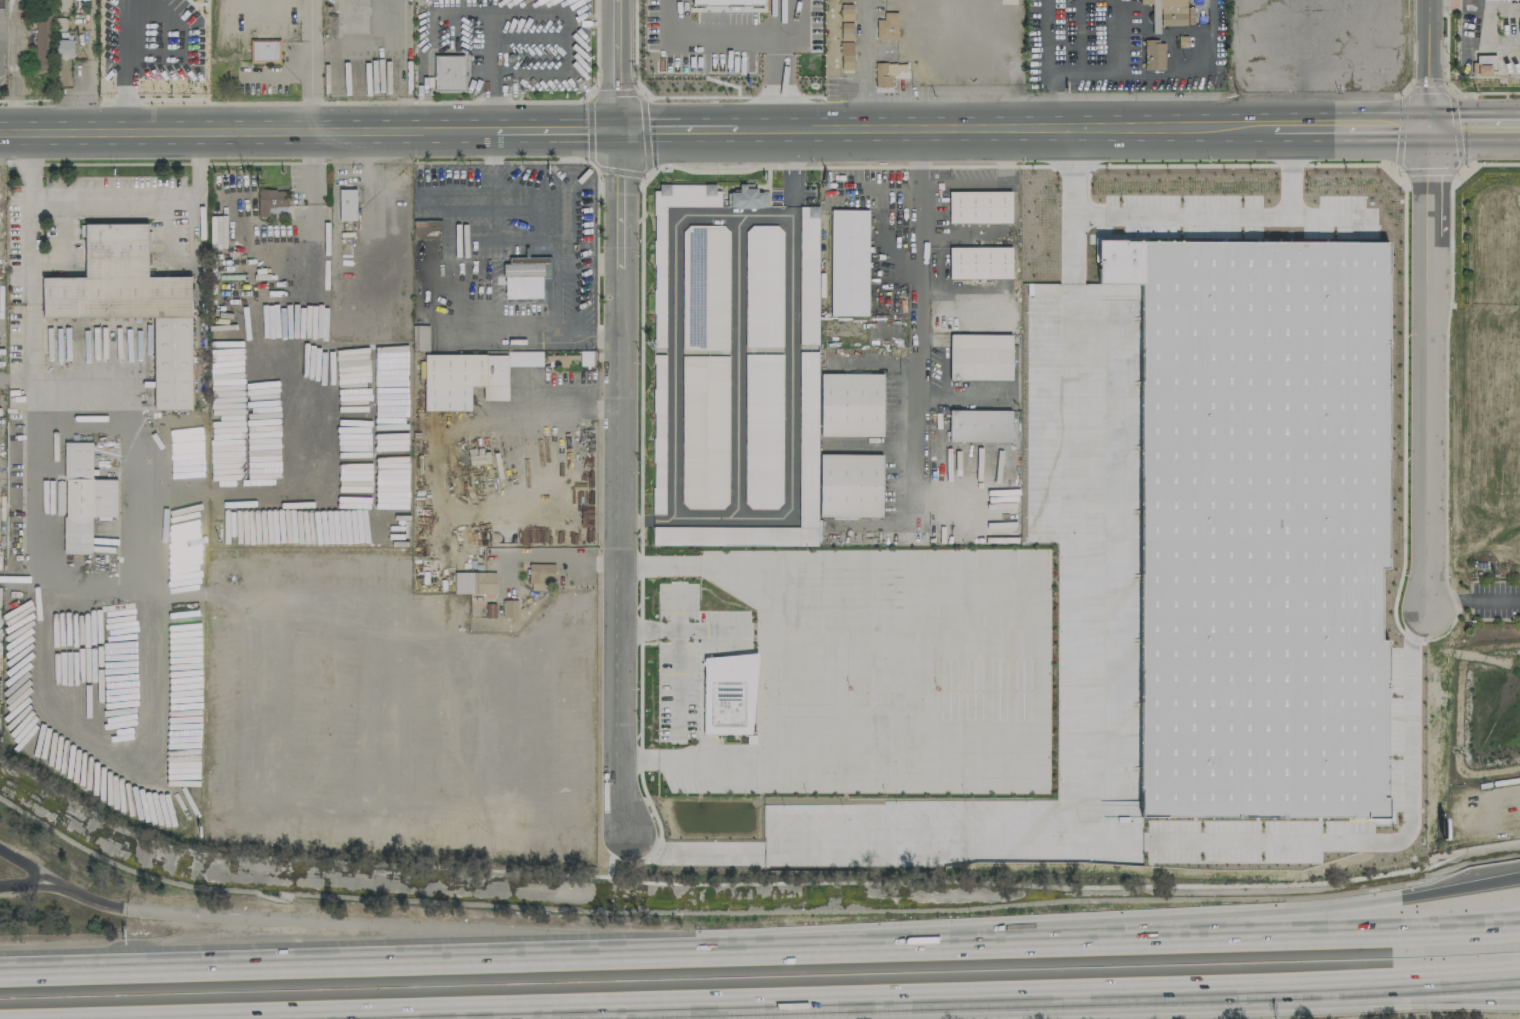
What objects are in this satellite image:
building: (846, 0)
building: (1488, 0)
building: (726, 2)
road: (1085, 9)
building: (846, 12)
building: (1166, 13)
building: (887, 26)
road: (492, 30)
building: (846, 31)
road: (715, 32)
building: (42, 41)
building: (64, 48)
road: (1086, 48)
building: (846, 55)
building: (1153, 55)
road: (1050, 63)
road: (309, 64)
road: (621, 64)
road: (776, 64)
road: (866, 64)
road: (1430, 64)
road: (125, 65)
building: (1484, 65)
road: (1087, 71)
building: (449, 73)
road: (554, 73)
building: (889, 73)
road: (1168, 74)
road: (401, 77)
road: (559, 128)
road: (679, 128)
road: (1004, 128)
road: (1475, 128)
road: (1352, 129)
road: (247, 130)
building: (748, 197)
road: (148, 200)
road: (28, 202)
building: (271, 202)
building: (346, 204)
building: (979, 207)
road: (1183, 209)
building: (849, 262)
building: (979, 262)
building: (808, 275)
building: (525, 276)
building: (659, 276)
building: (763, 286)
building: (705, 287)
road: (307, 300)
building: (131, 302)
road: (453, 307)
road: (914, 329)
building: (980, 356)
road: (1429, 370)
building: (470, 377)
road: (527, 397)
road: (608, 401)
building: (851, 404)
building: (979, 425)
building: (763, 431)
building: (704, 432)
building: (658, 434)
building: (807, 439)
road: (622, 478)
building: (850, 485)
building: (84, 497)
road: (721, 519)
road: (556, 560)
building: (540, 575)
building: (474, 582)
road: (1472, 598)
building: (509, 608)
road: (681, 630)
road: (676, 684)
building: (728, 693)
road: (91, 731)
road: (1390, 835)
road: (35, 884)
road: (1301, 910)
road: (327, 921)
road: (760, 954)
road: (1311, 987)
road: (610, 1005)
road: (1310, 1006)

